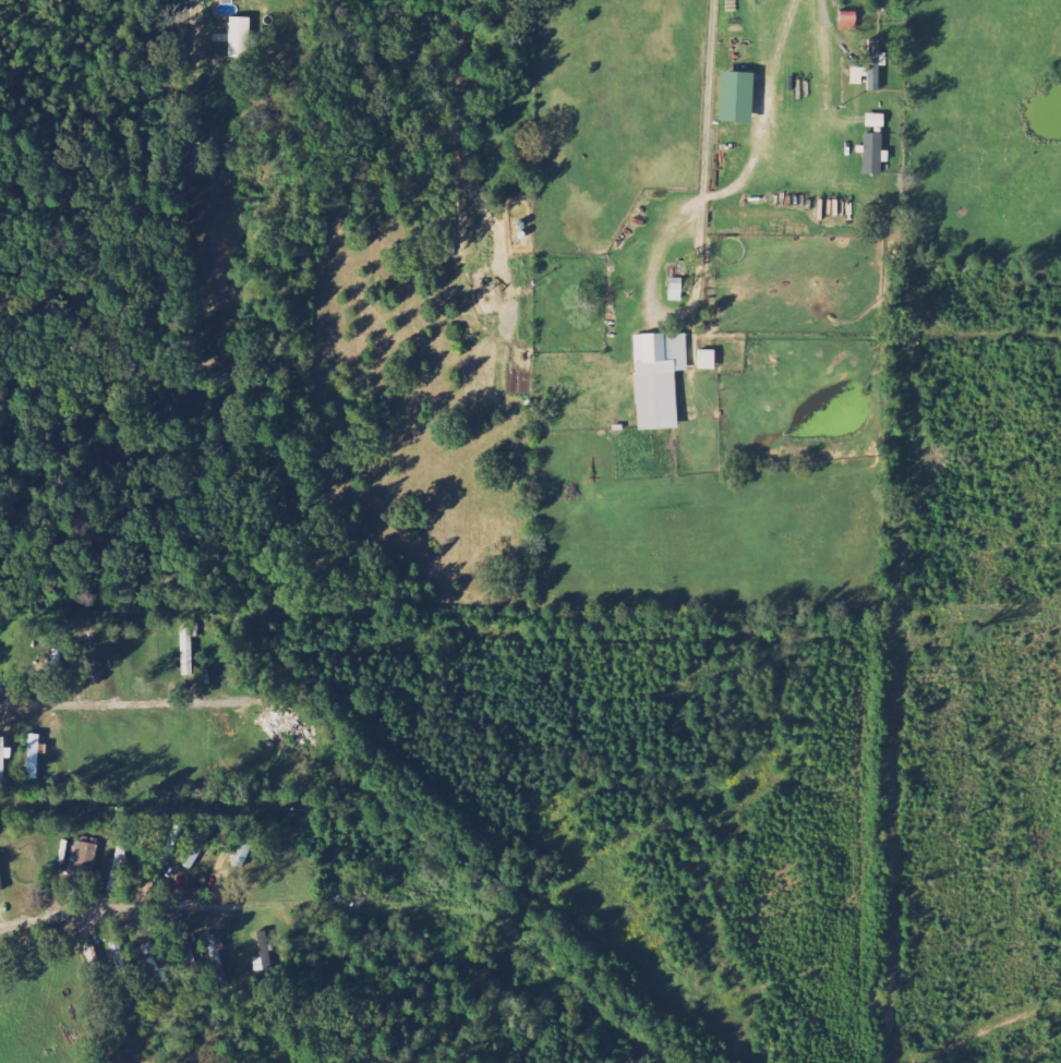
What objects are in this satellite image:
building: (847, 21)
building: (239, 38)
building: (869, 70)
road: (459, 83)
building: (735, 98)
building: (873, 121)
road: (702, 141)
building: (871, 155)
road: (650, 277)
road: (498, 336)
building: (706, 361)
building: (658, 379)
building: (89, 656)
road: (131, 708)
building: (33, 756)
building: (3, 761)
building: (198, 846)
building: (83, 860)
building: (0, 878)
road: (118, 910)
road: (477, 915)
building: (120, 963)

